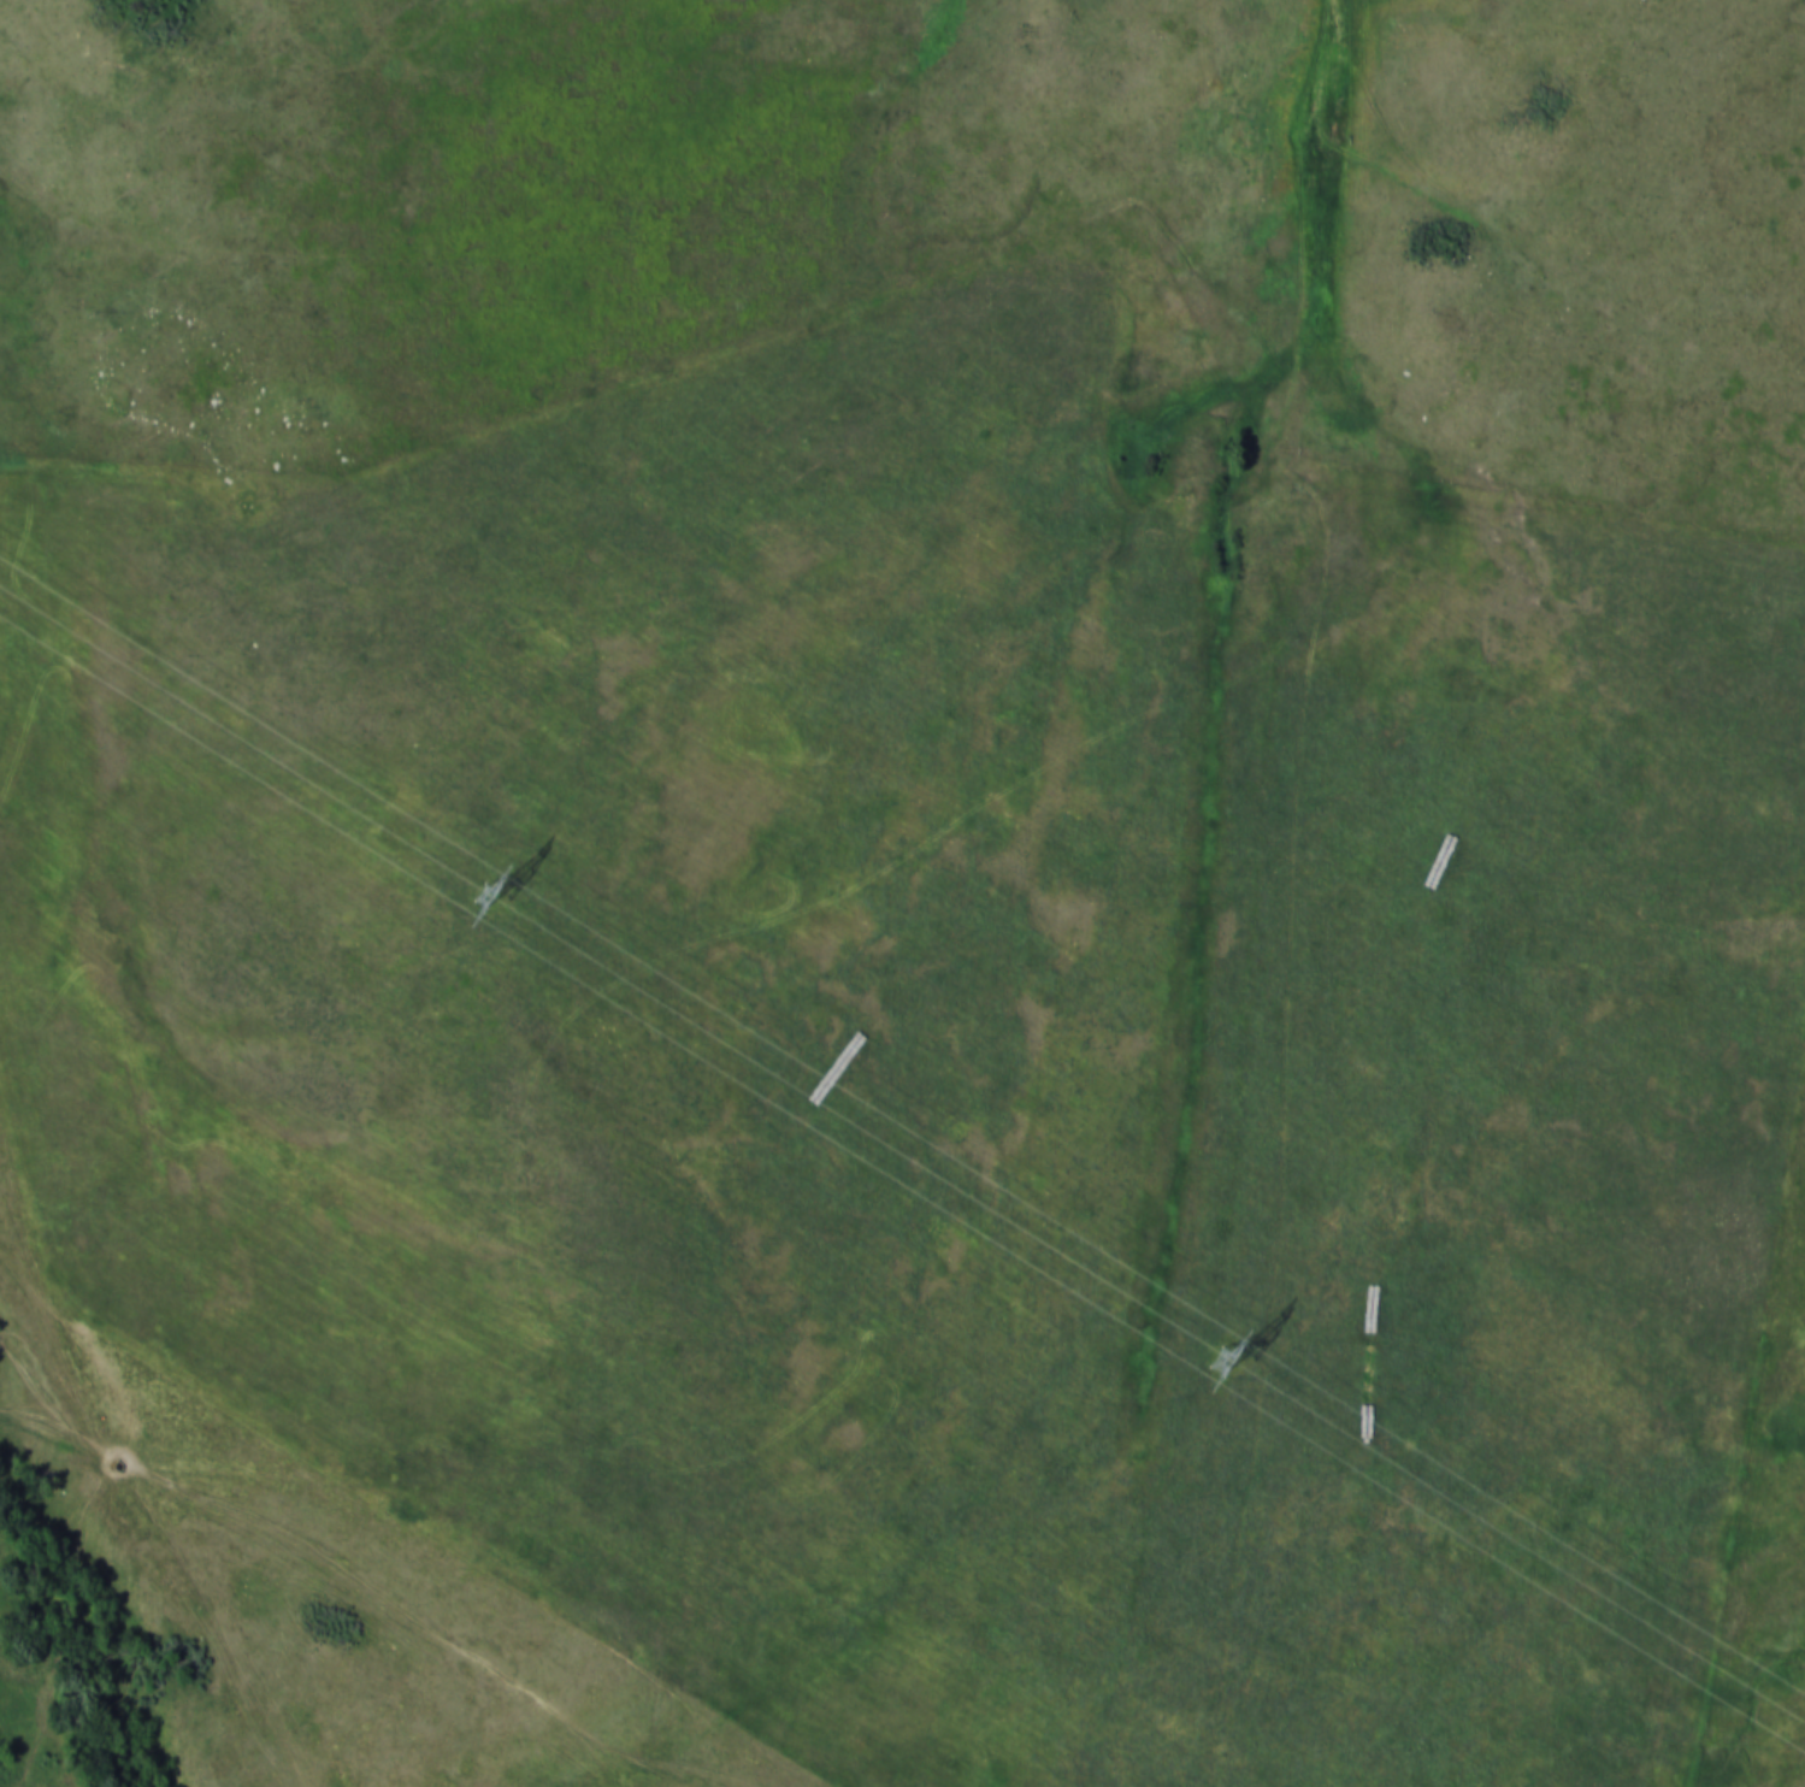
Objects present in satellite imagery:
power tower: (484, 893)
power tower: (1222, 1356)
road: (913, 1726)

